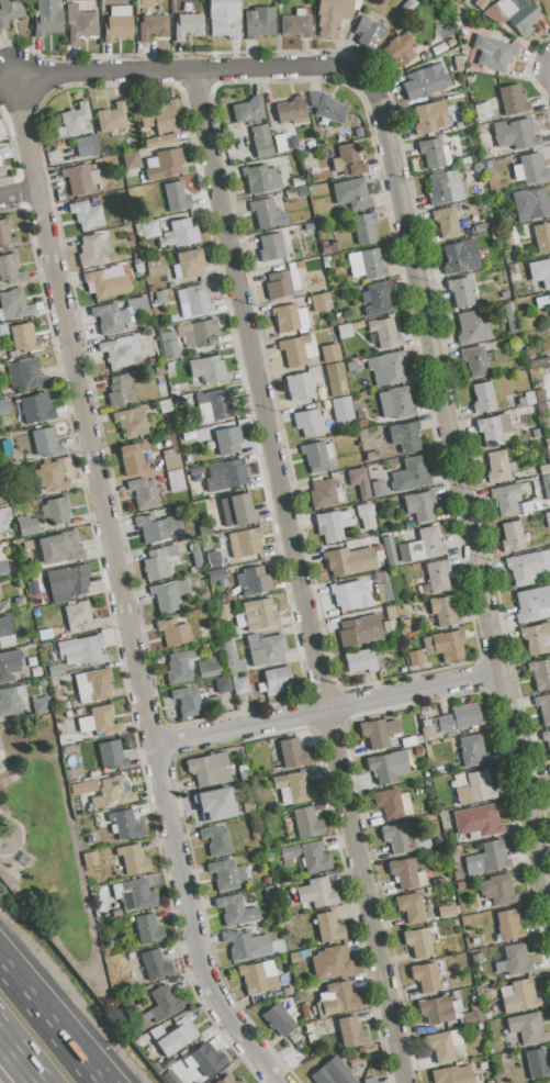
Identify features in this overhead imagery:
building: (480, 3)
building: (408, 5)
building: (454, 7)
building: (9, 11)
building: (514, 14)
building: (332, 15)
building: (47, 18)
building: (224, 18)
building: (260, 22)
building: (117, 23)
building: (80, 24)
building: (295, 24)
building: (188, 25)
building: (151, 26)
building: (369, 33)
building: (486, 40)
building: (450, 42)
building: (399, 49)
building: (500, 56)
building: (458, 63)
road: (190, 72)
building: (418, 85)
building: (513, 100)
building: (326, 108)
building: (248, 110)
building: (292, 110)
building: (483, 110)
building: (160, 116)
building: (112, 118)
building: (429, 118)
building: (74, 121)
building: (515, 134)
building: (344, 138)
building: (159, 141)
building: (261, 141)
building: (284, 143)
building: (87, 146)
building: (433, 152)
building: (132, 159)
building: (348, 161)
building: (166, 165)
building: (530, 168)
building: (2, 170)
building: (80, 179)
building: (262, 179)
building: (446, 187)
building: (302, 191)
road: (18, 193)
building: (291, 194)
building: (352, 194)
building: (175, 197)
building: (530, 204)
building: (267, 213)
building: (87, 215)
building: (447, 223)
building: (364, 227)
building: (147, 230)
building: (8, 233)
building: (180, 234)
building: (542, 237)
building: (272, 246)
building: (328, 246)
building: (91, 252)
building: (461, 256)
building: (189, 264)
building: (367, 264)
building: (300, 265)
building: (137, 266)
building: (155, 266)
building: (11, 268)
building: (112, 271)
building: (540, 272)
building: (92, 276)
building: (283, 283)
building: (109, 287)
building: (462, 292)
building: (159, 297)
building: (549, 297)
building: (377, 299)
building: (194, 301)
building: (321, 302)
building: (14, 304)
building: (117, 315)
building: (290, 319)
building: (357, 325)
building: (474, 326)
building: (3, 330)
building: (344, 331)
building: (385, 333)
building: (199, 336)
building: (24, 338)
building: (168, 344)
building: (120, 350)
building: (298, 350)
building: (330, 353)
building: (476, 362)
building: (392, 366)
building: (351, 367)
building: (207, 369)
building: (26, 373)
building: (337, 379)
building: (299, 386)
building: (120, 390)
building: (539, 395)
building: (483, 397)
building: (529, 398)
building: (397, 402)
building: (214, 406)
building: (34, 409)
building: (343, 409)
building: (131, 422)
building: (307, 423)
building: (494, 429)
building: (536, 433)
building: (405, 436)
building: (228, 440)
building: (45, 443)
building: (547, 443)
building: (328, 451)
building: (168, 453)
building: (371, 456)
building: (315, 457)
building: (134, 458)
building: (172, 461)
building: (500, 466)
building: (197, 470)
building: (374, 472)
building: (411, 477)
building: (53, 478)
building: (229, 478)
building: (177, 481)
building: (359, 482)
building: (546, 485)
building: (378, 489)
building: (144, 493)
building: (322, 493)
road: (461, 493)
building: (512, 501)
building: (420, 505)
building: (236, 510)
building: (56, 511)
building: (367, 516)
building: (548, 520)
building: (2, 522)
building: (334, 524)
building: (26, 526)
building: (159, 528)
building: (513, 536)
building: (248, 543)
building: (65, 547)
building: (423, 547)
building: (390, 551)
building: (214, 560)
building: (159, 561)
building: (349, 561)
building: (2, 563)
building: (528, 567)
building: (192, 570)
building: (215, 576)
road: (301, 577)
building: (438, 577)
building: (69, 579)
building: (254, 581)
building: (383, 587)
road: (122, 589)
building: (170, 595)
building: (350, 595)
building: (534, 604)
building: (3, 605)
building: (444, 611)
building: (391, 612)
building: (223, 613)
building: (259, 614)
building: (80, 616)
building: (405, 623)
building: (390, 626)
building: (360, 632)
building: (5, 633)
building: (176, 633)
building: (538, 639)
building: (445, 645)
building: (80, 650)
building: (266, 650)
building: (232, 658)
building: (415, 658)
building: (360, 661)
building: (9, 665)
building: (55, 670)
building: (178, 670)
building: (35, 671)
building: (209, 671)
building: (540, 673)
building: (276, 681)
building: (42, 683)
building: (94, 684)
building: (239, 684)
building: (223, 685)
building: (11, 701)
building: (189, 701)
building: (41, 705)
building: (543, 707)
road: (327, 710)
building: (459, 718)
building: (100, 721)
building: (426, 732)
building: (378, 733)
building: (546, 737)
building: (473, 751)
building: (293, 753)
building: (112, 755)
building: (549, 757)
building: (389, 767)
building: (549, 767)
building: (211, 770)
building: (82, 786)
building: (295, 786)
building: (475, 789)
building: (114, 792)
building: (392, 803)
building: (216, 804)
building: (478, 820)
building: (307, 823)
building: (125, 824)
building: (397, 838)
building: (215, 840)
building: (310, 856)
building: (90, 859)
building: (487, 859)
building: (134, 860)
building: (406, 873)
building: (226, 874)
building: (498, 890)
building: (316, 893)
building: (137, 895)
building: (411, 907)
building: (235, 911)
building: (509, 925)
building: (329, 927)
building: (149, 929)
building: (418, 942)
building: (247, 945)
building: (517, 960)
building: (330, 962)
building: (156, 964)
building: (259, 975)
building: (426, 976)
building: (518, 996)
building: (338, 998)
building: (162, 1003)
building: (456, 1008)
building: (436, 1009)
building: (305, 1011)
building: (317, 1011)
building: (472, 1017)
road: (50, 1020)
building: (279, 1020)
building: (308, 1028)
building: (528, 1029)
building: (351, 1031)
building: (177, 1036)
building: (312, 1039)
building: (444, 1045)
road: (4, 1061)
building: (206, 1061)
building: (537, 1064)
building: (332, 1073)
road: (13, 1075)
road: (16, 1075)
building: (451, 1075)
building: (170, 1078)
building: (229, 1080)
building: (368, 1080)
building: (548, 1082)

